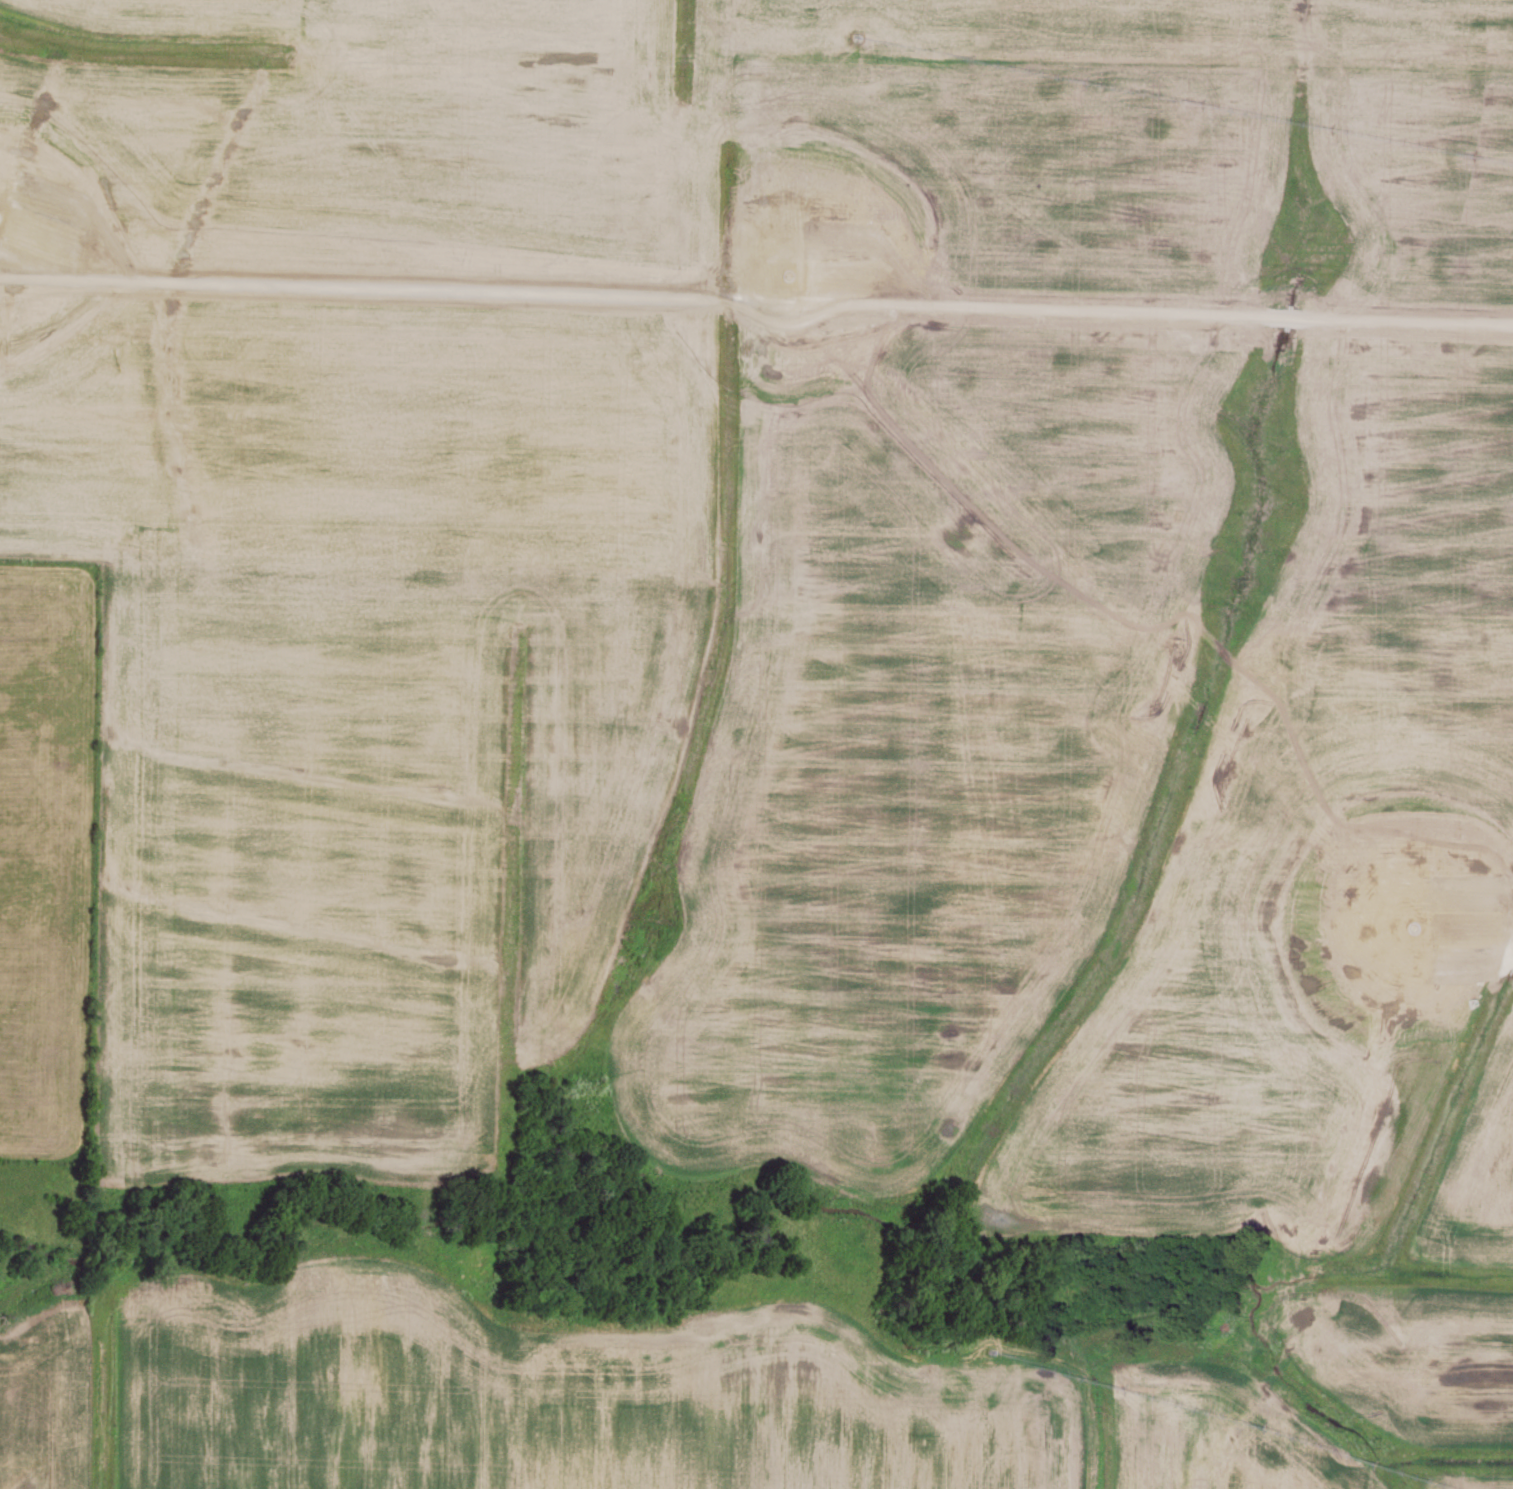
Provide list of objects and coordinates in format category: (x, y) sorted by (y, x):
wind turbine: (1, 235)
wind turbine: (789, 278)
wind turbine: (1405, 934)

